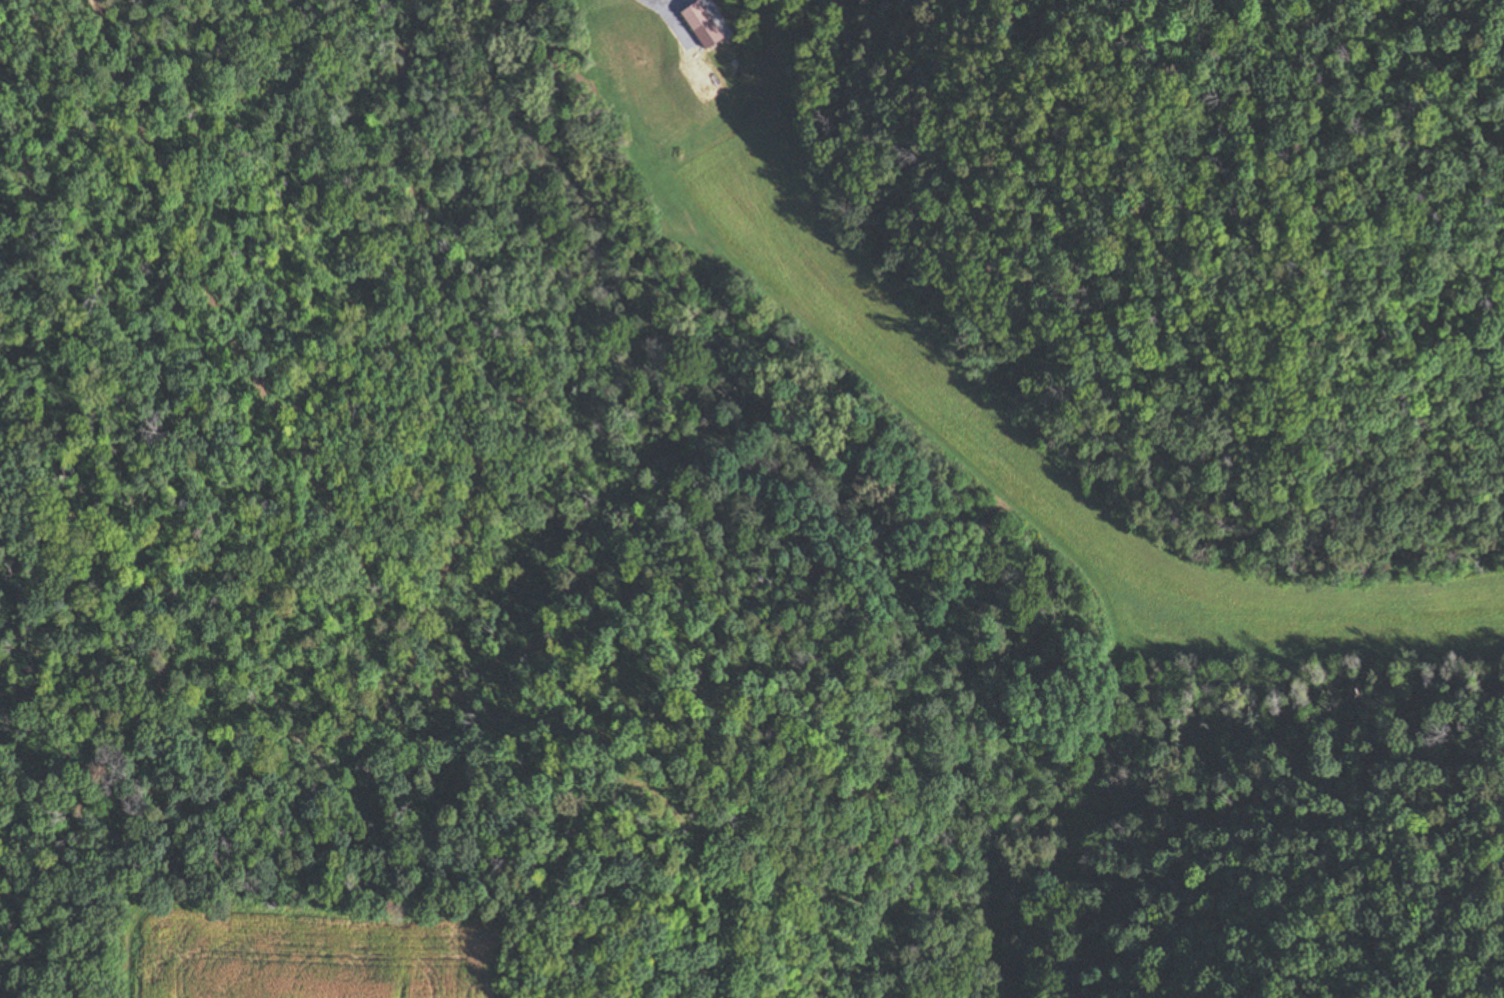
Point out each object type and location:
road: (661, 2)
building: (706, 28)

